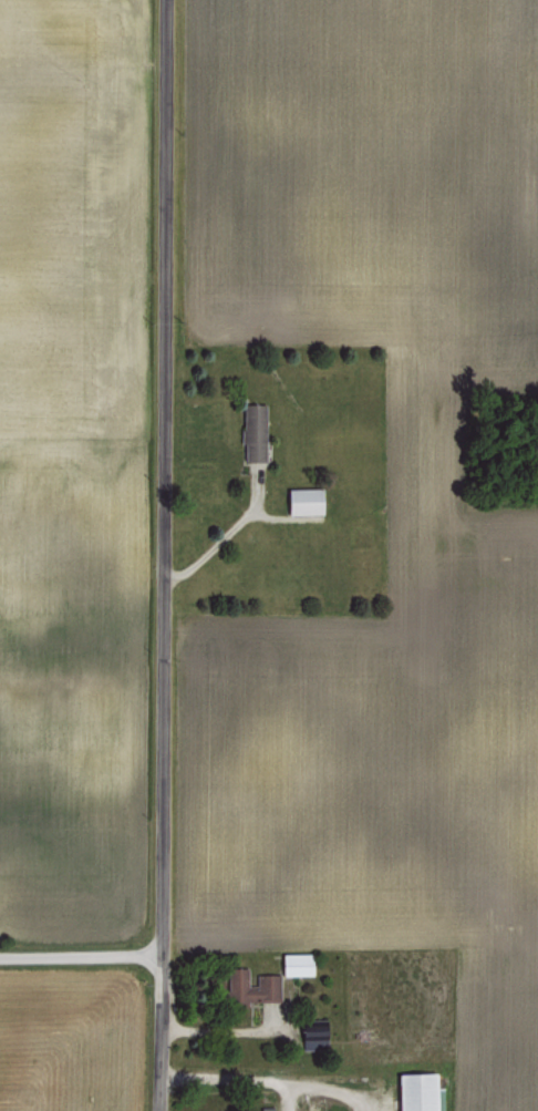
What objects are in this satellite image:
crop: (360, 176)
building: (252, 431)
building: (303, 500)
road: (219, 534)
road: (161, 555)
crop: (382, 782)
road: (79, 953)
building: (296, 961)
building: (251, 985)
road: (246, 1029)
building: (311, 1031)
road: (268, 1080)

